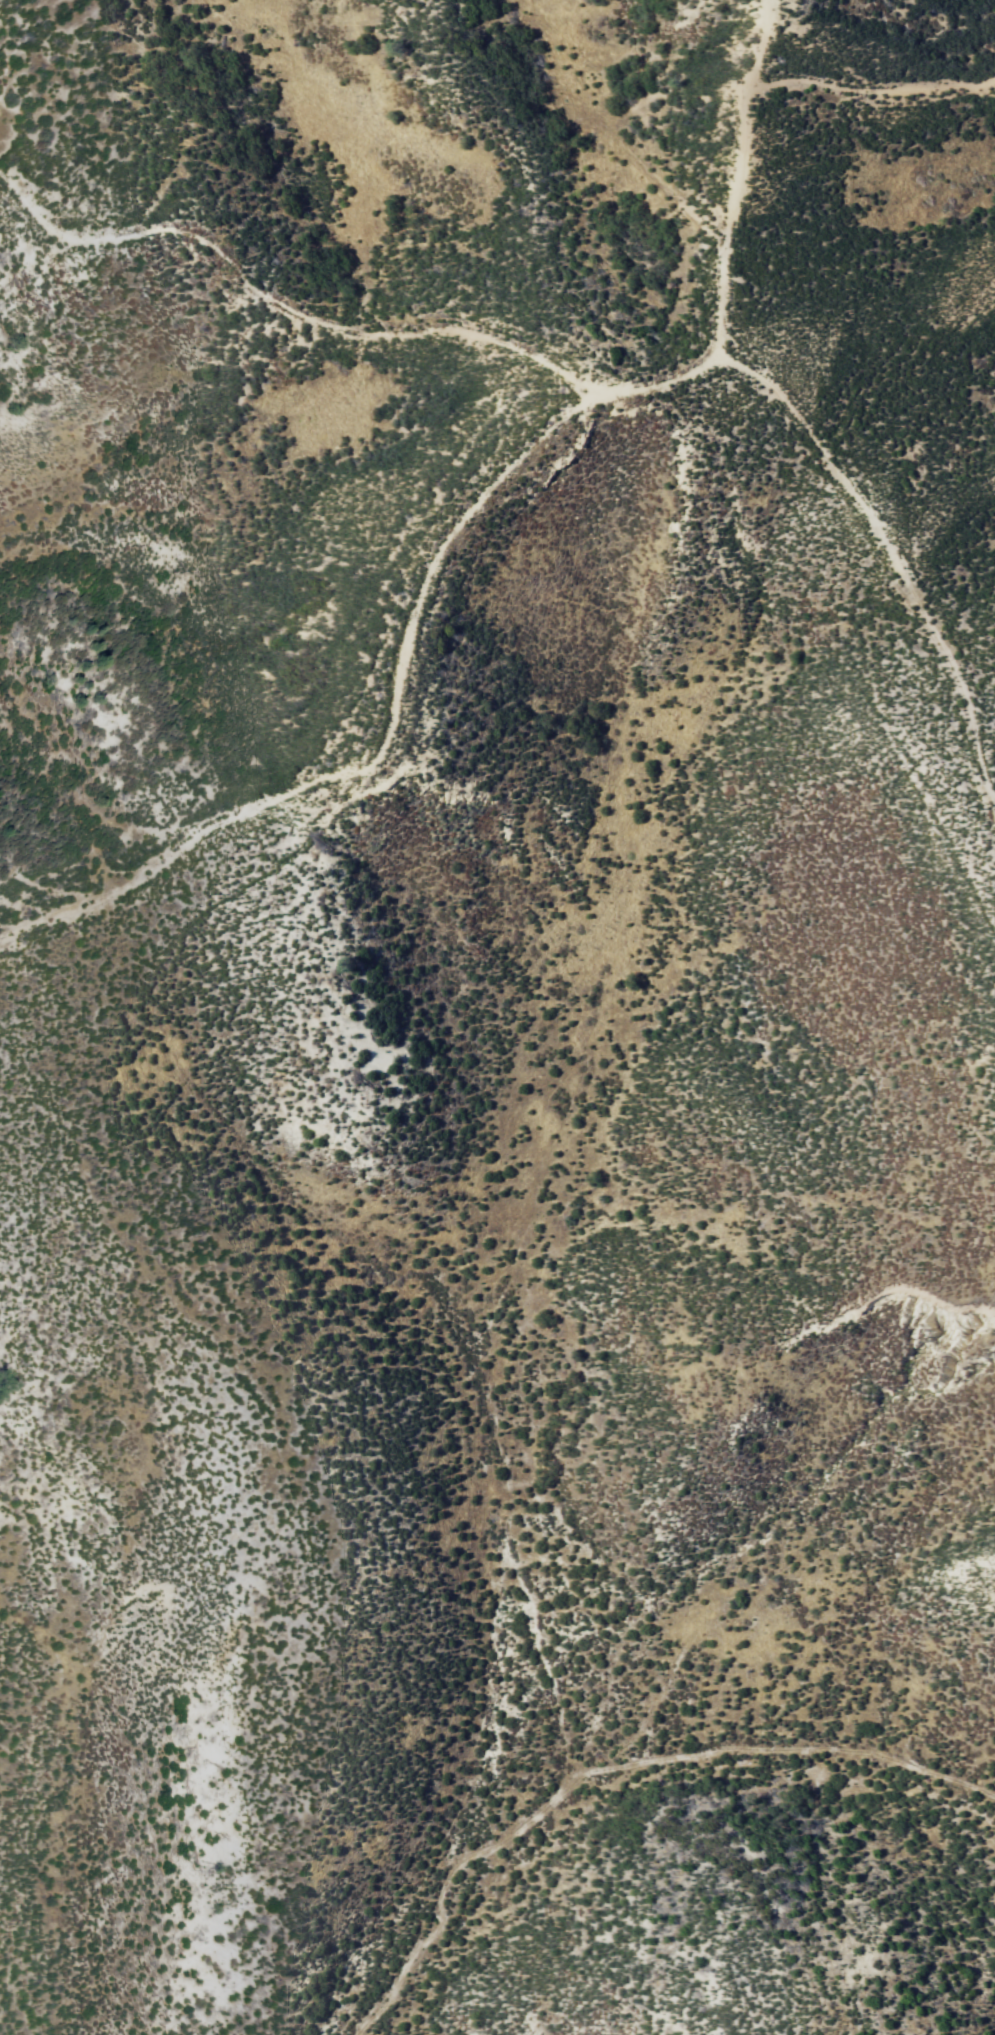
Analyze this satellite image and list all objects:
road: (786, 141)
road: (559, 359)
road: (388, 763)

